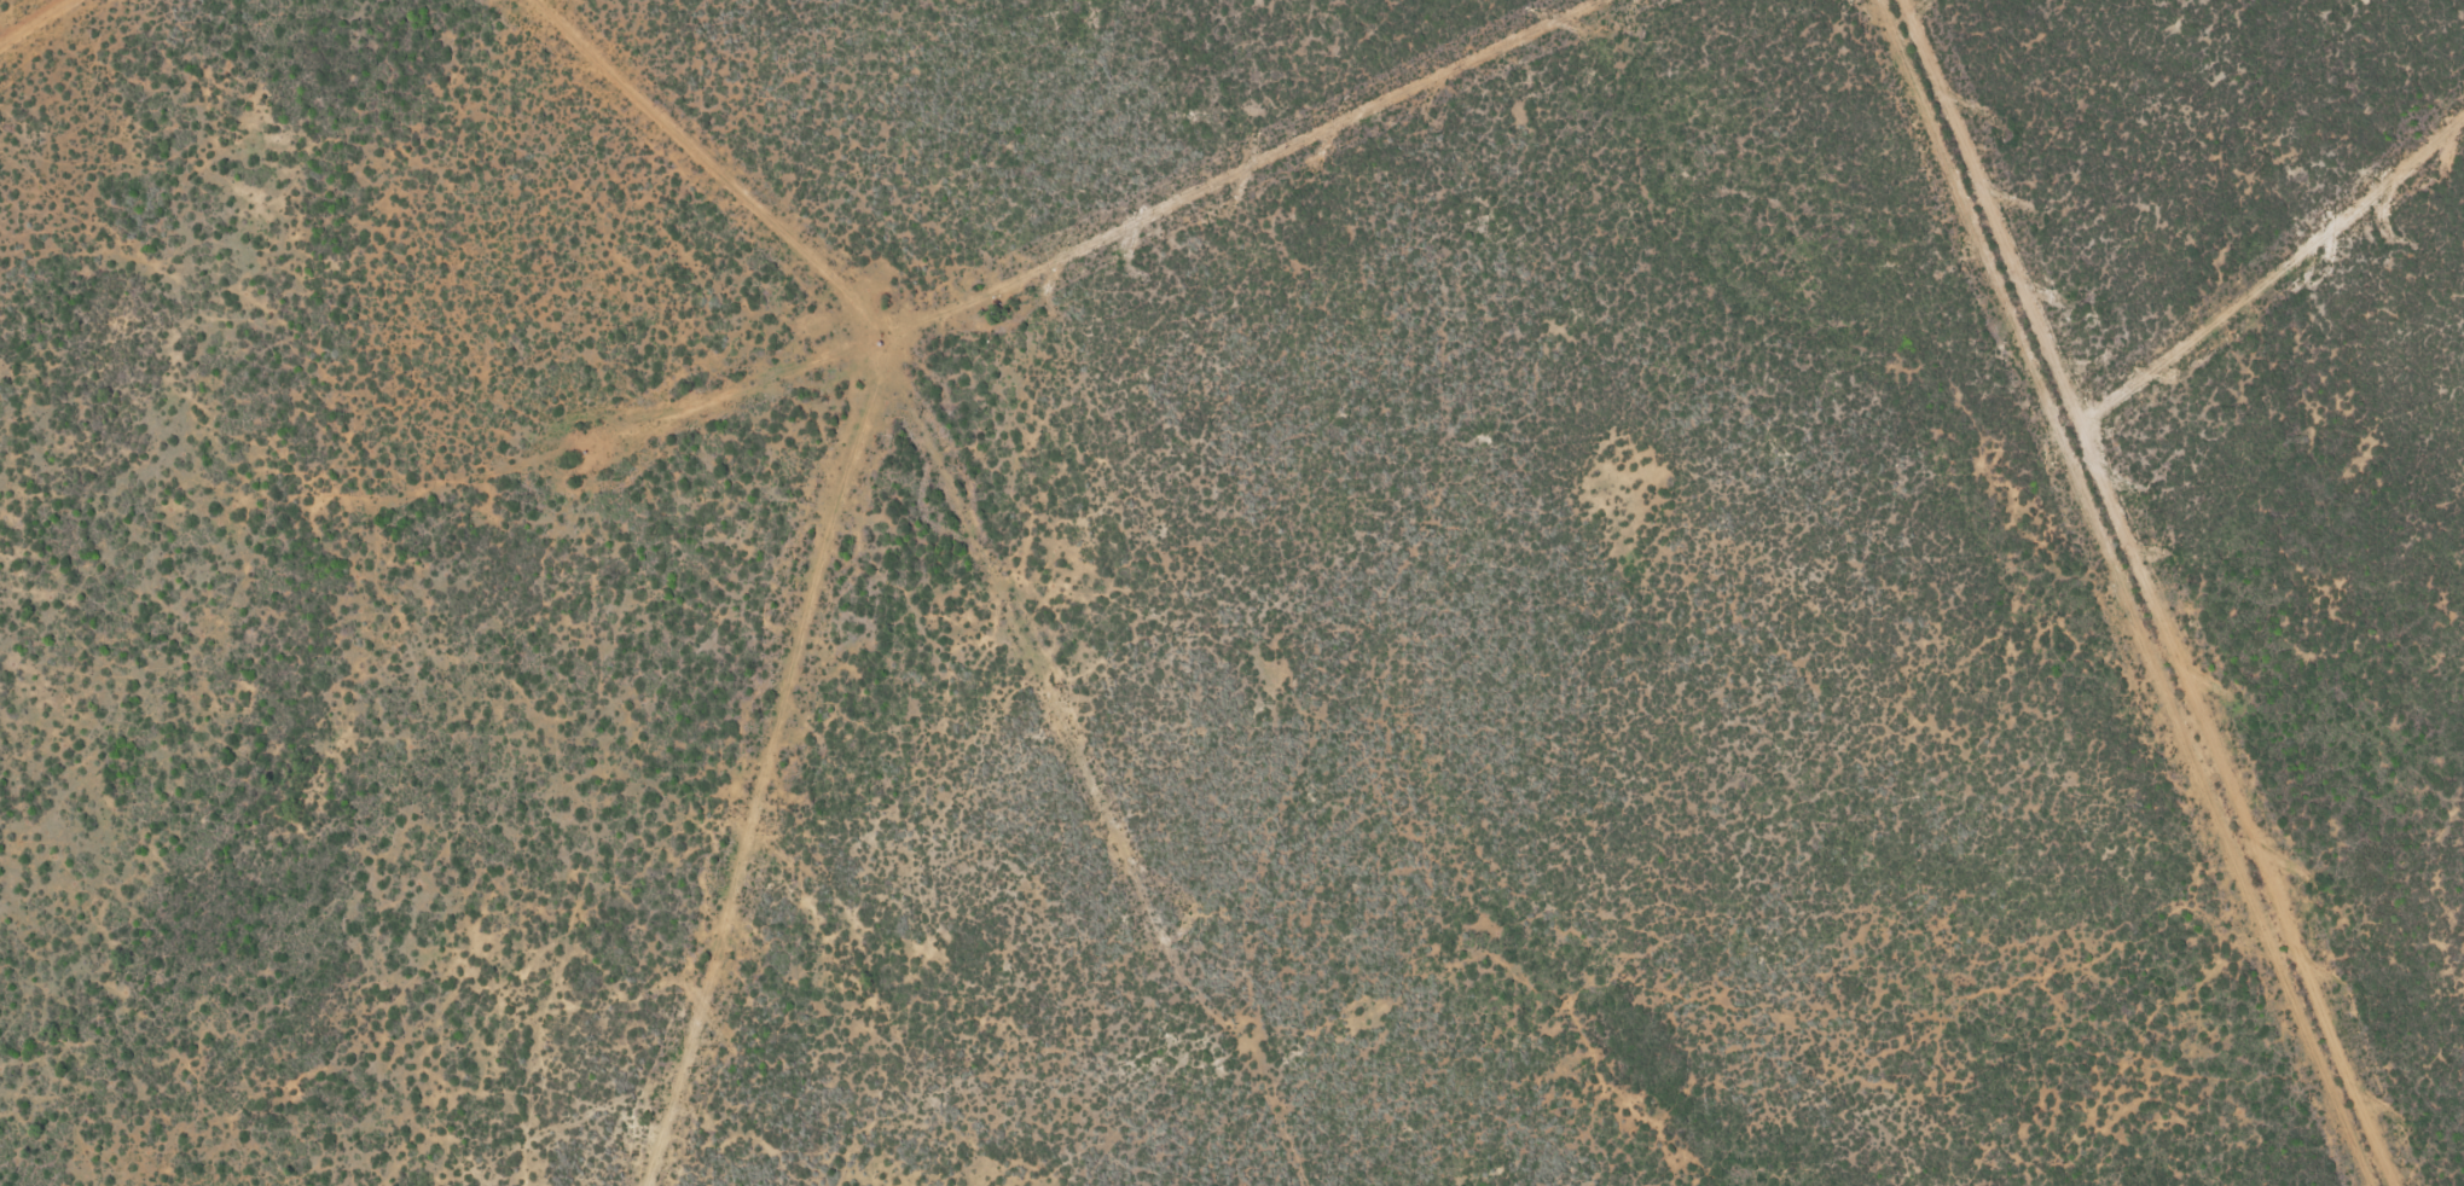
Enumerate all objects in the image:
road: (831, 531)

